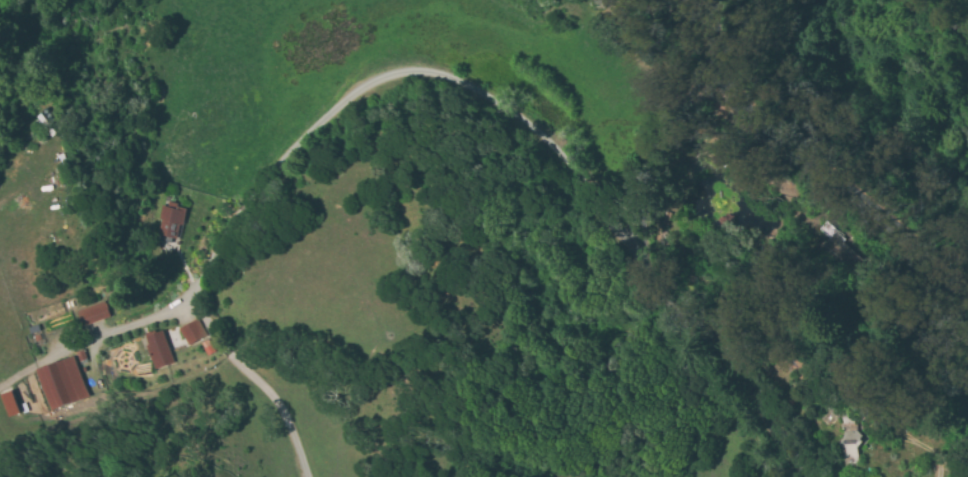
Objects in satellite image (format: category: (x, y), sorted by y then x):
road: (350, 96)
road: (811, 163)
building: (169, 220)
building: (836, 244)
road: (651, 276)
building: (91, 314)
building: (195, 336)
building: (158, 350)
road: (49, 369)
building: (60, 383)
building: (9, 404)
building: (850, 440)

